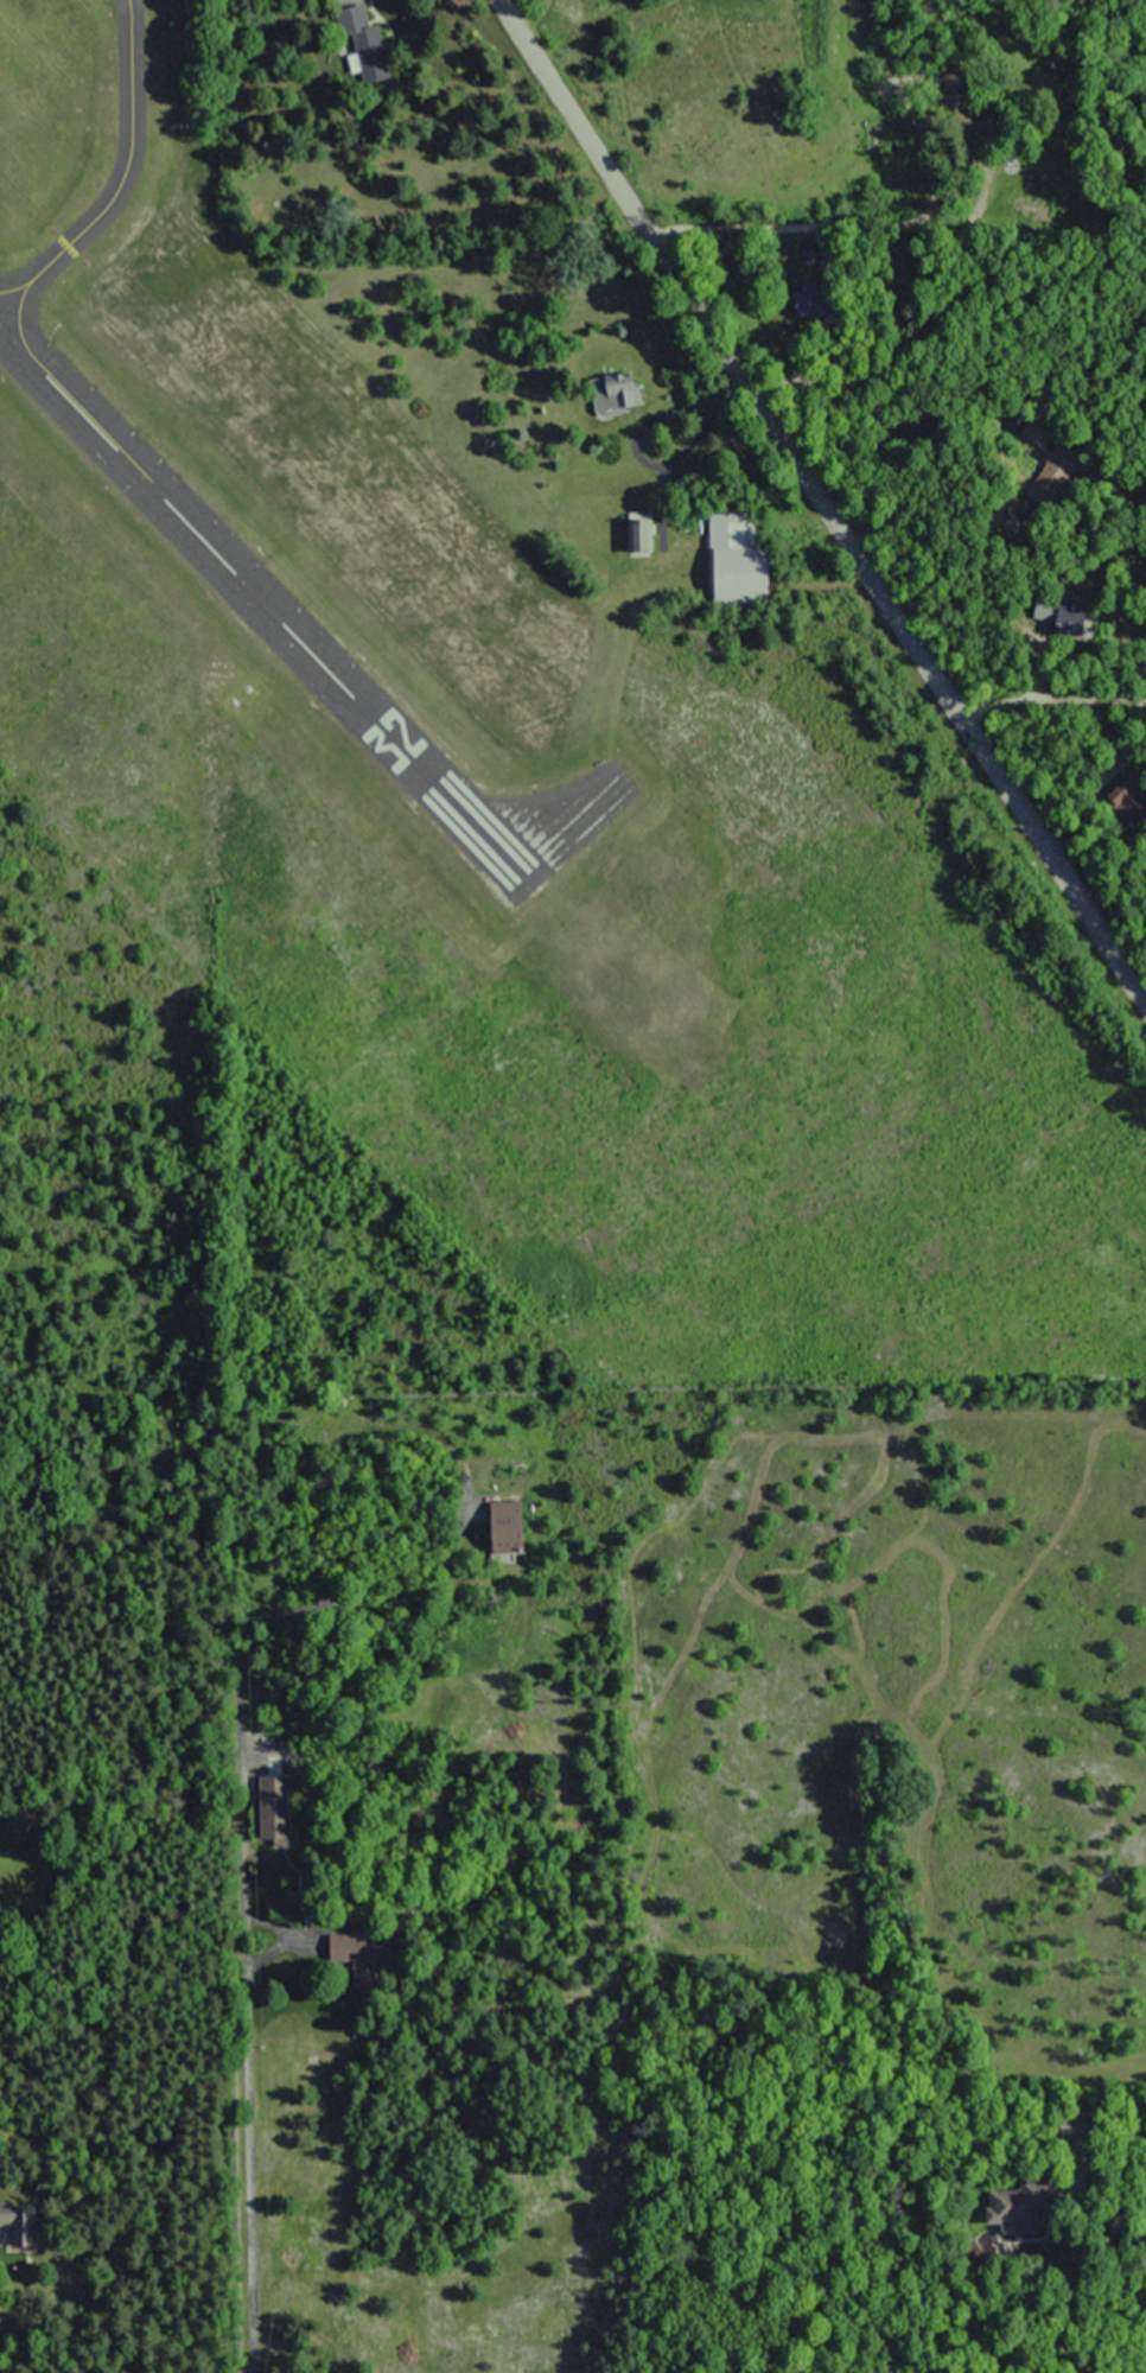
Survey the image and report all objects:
building: (365, 52)
airport taxiway: (125, 178)
road: (894, 235)
building: (616, 390)
road: (820, 501)
building: (731, 559)
airport runway: (268, 610)
airport: (437, 648)
building: (1123, 802)
building: (495, 1528)
building: (270, 1815)
road: (244, 1901)
building: (356, 1953)
building: (1018, 2205)
building: (15, 2225)
road: (1067, 2320)

